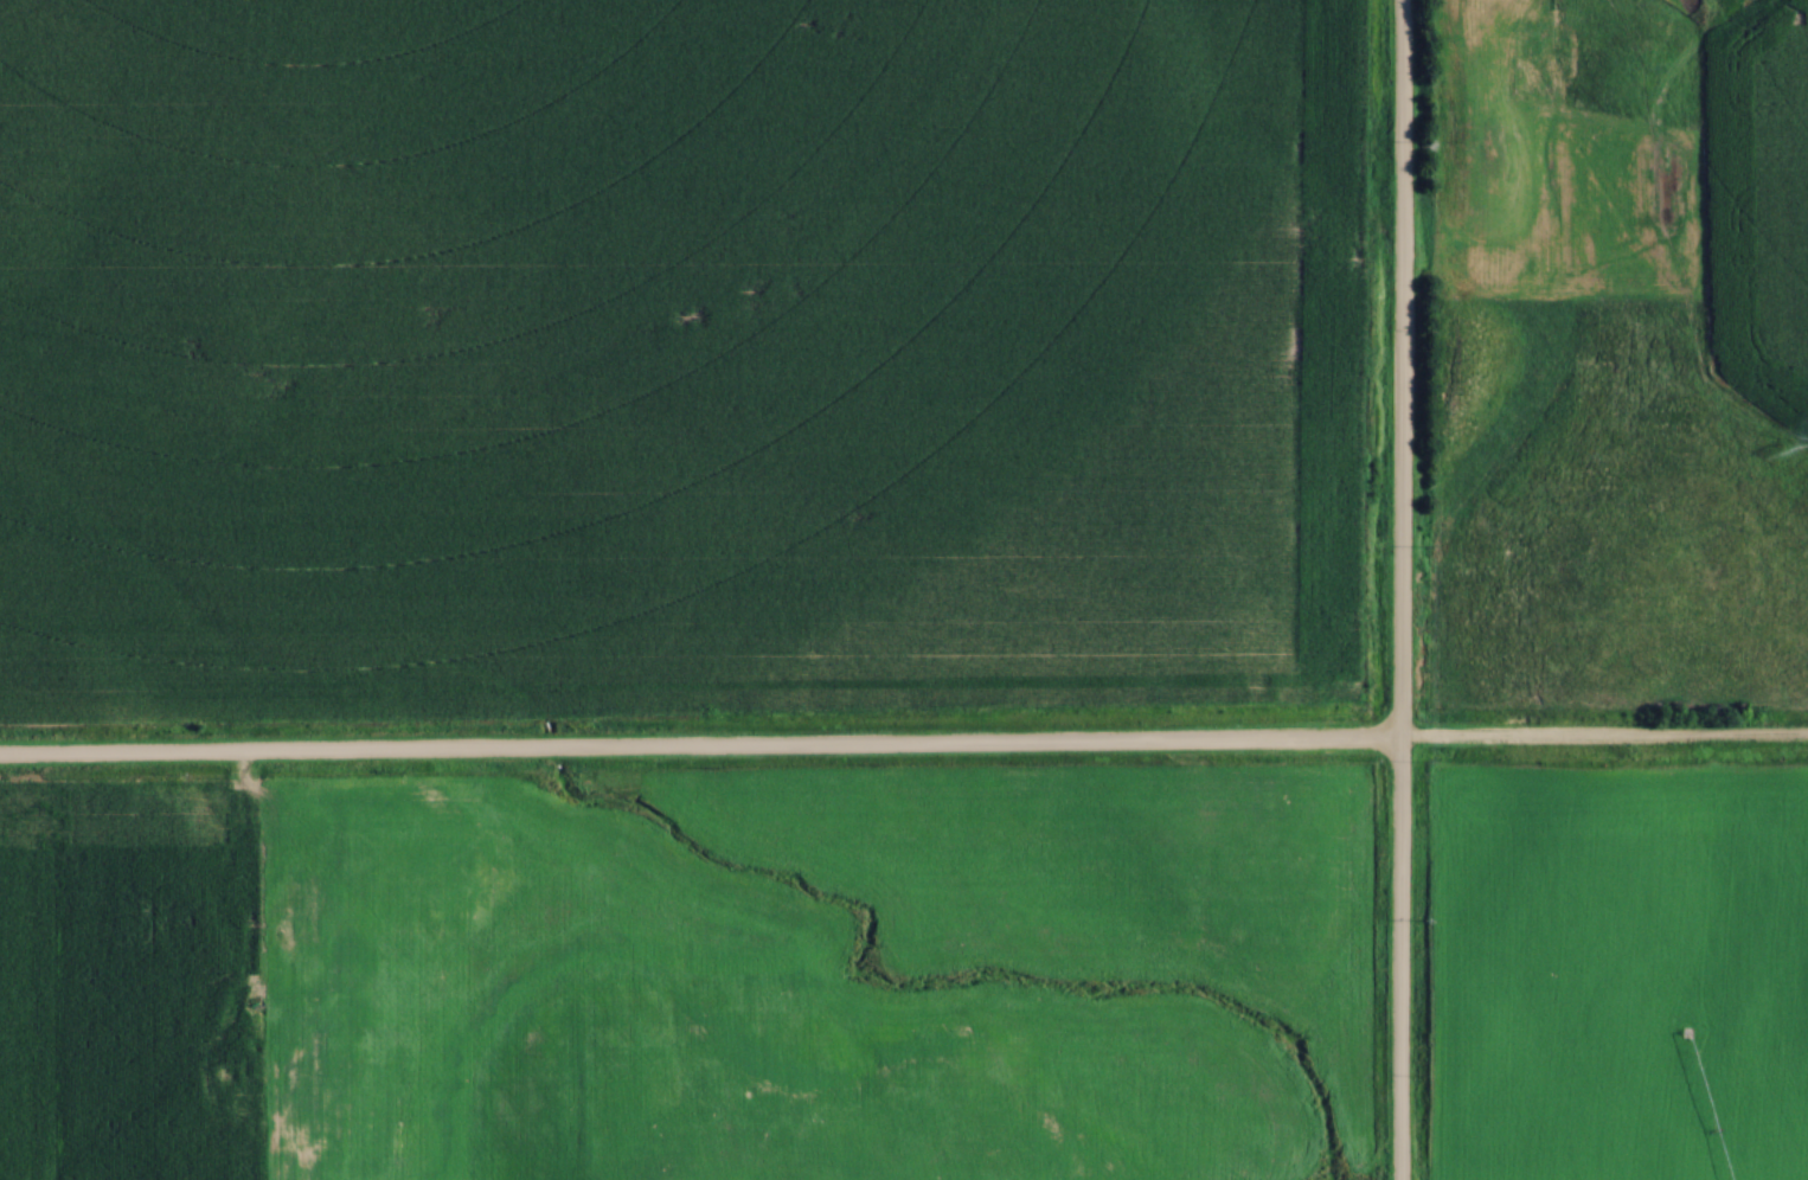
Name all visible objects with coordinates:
road: (1399, 590)
road: (903, 755)
road: (245, 917)
building: (226, 1082)

